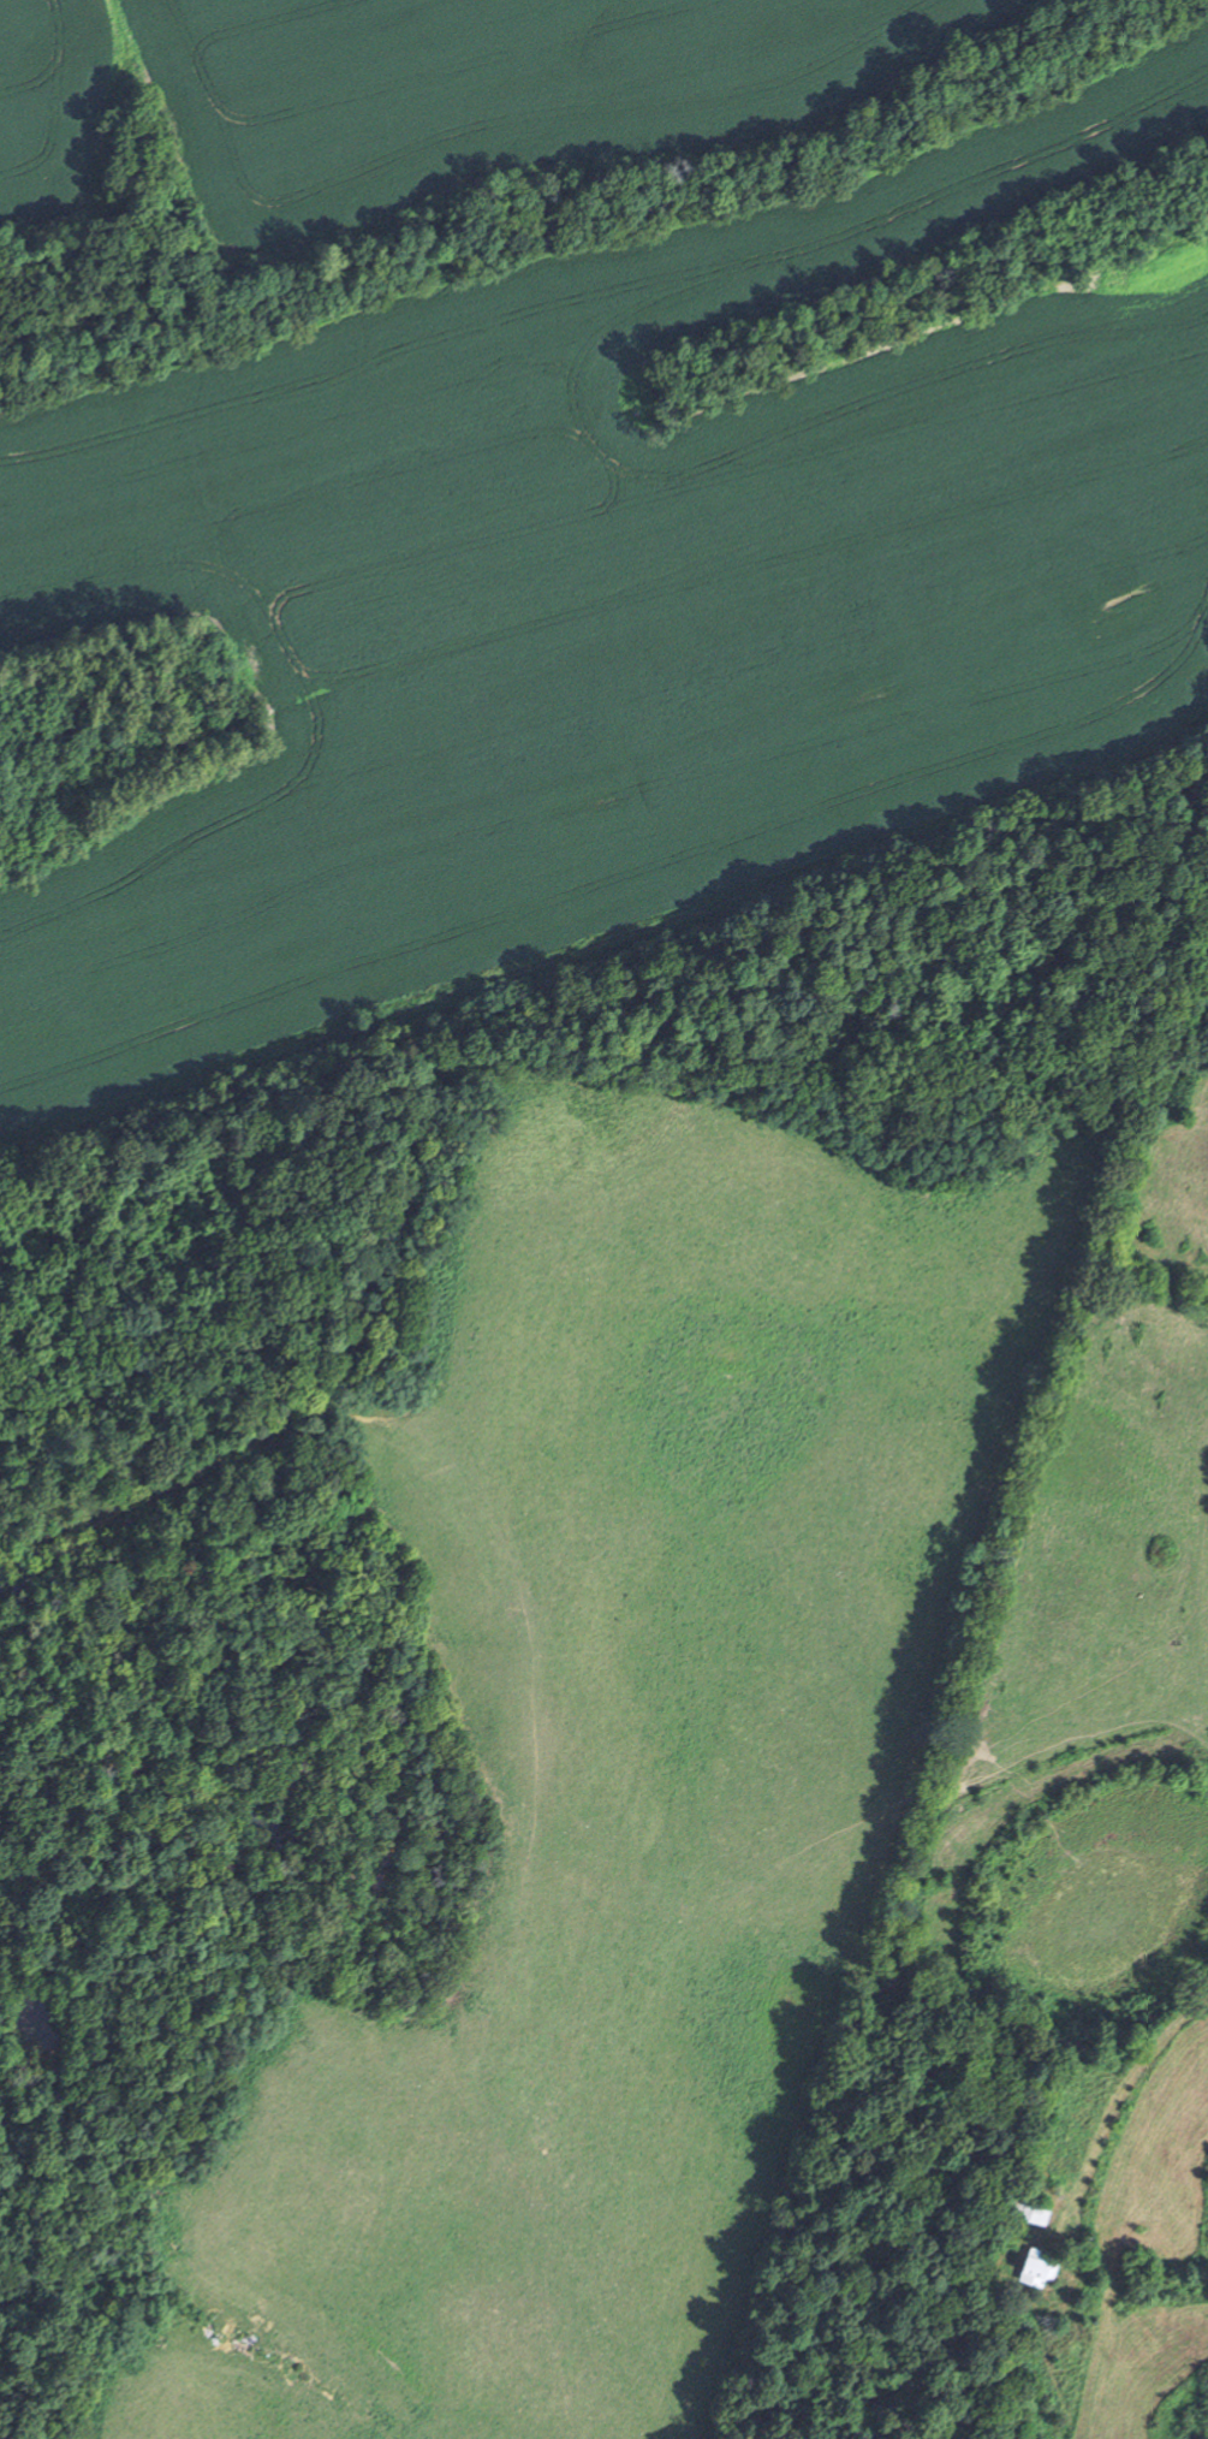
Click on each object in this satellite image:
road: (1126, 2090)

